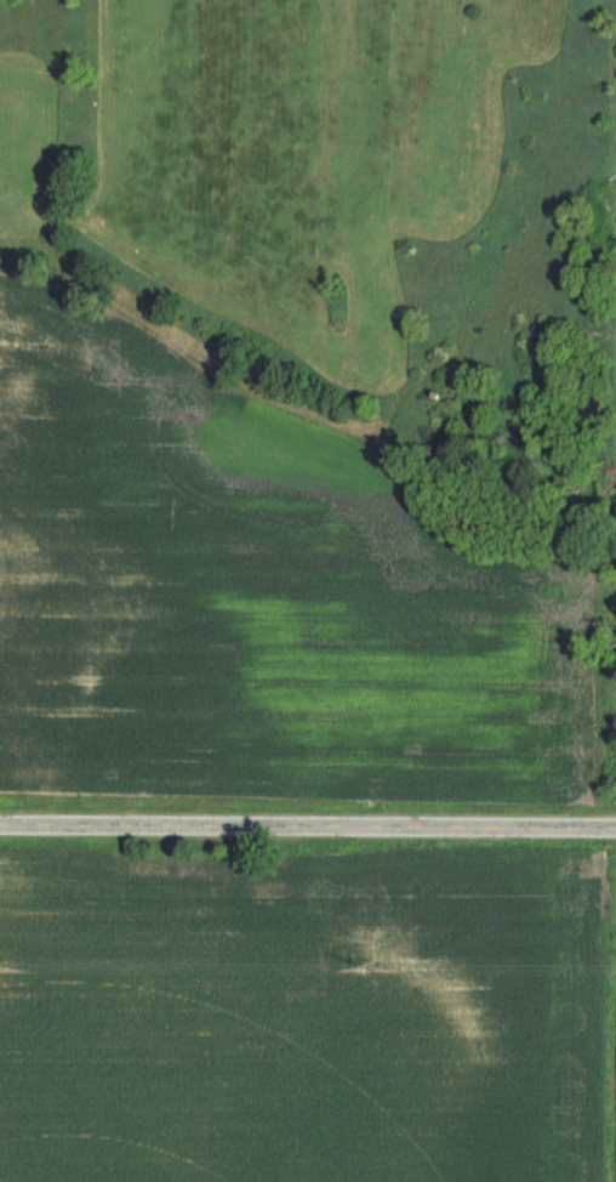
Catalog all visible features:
road: (308, 818)
power tower: (370, 970)

